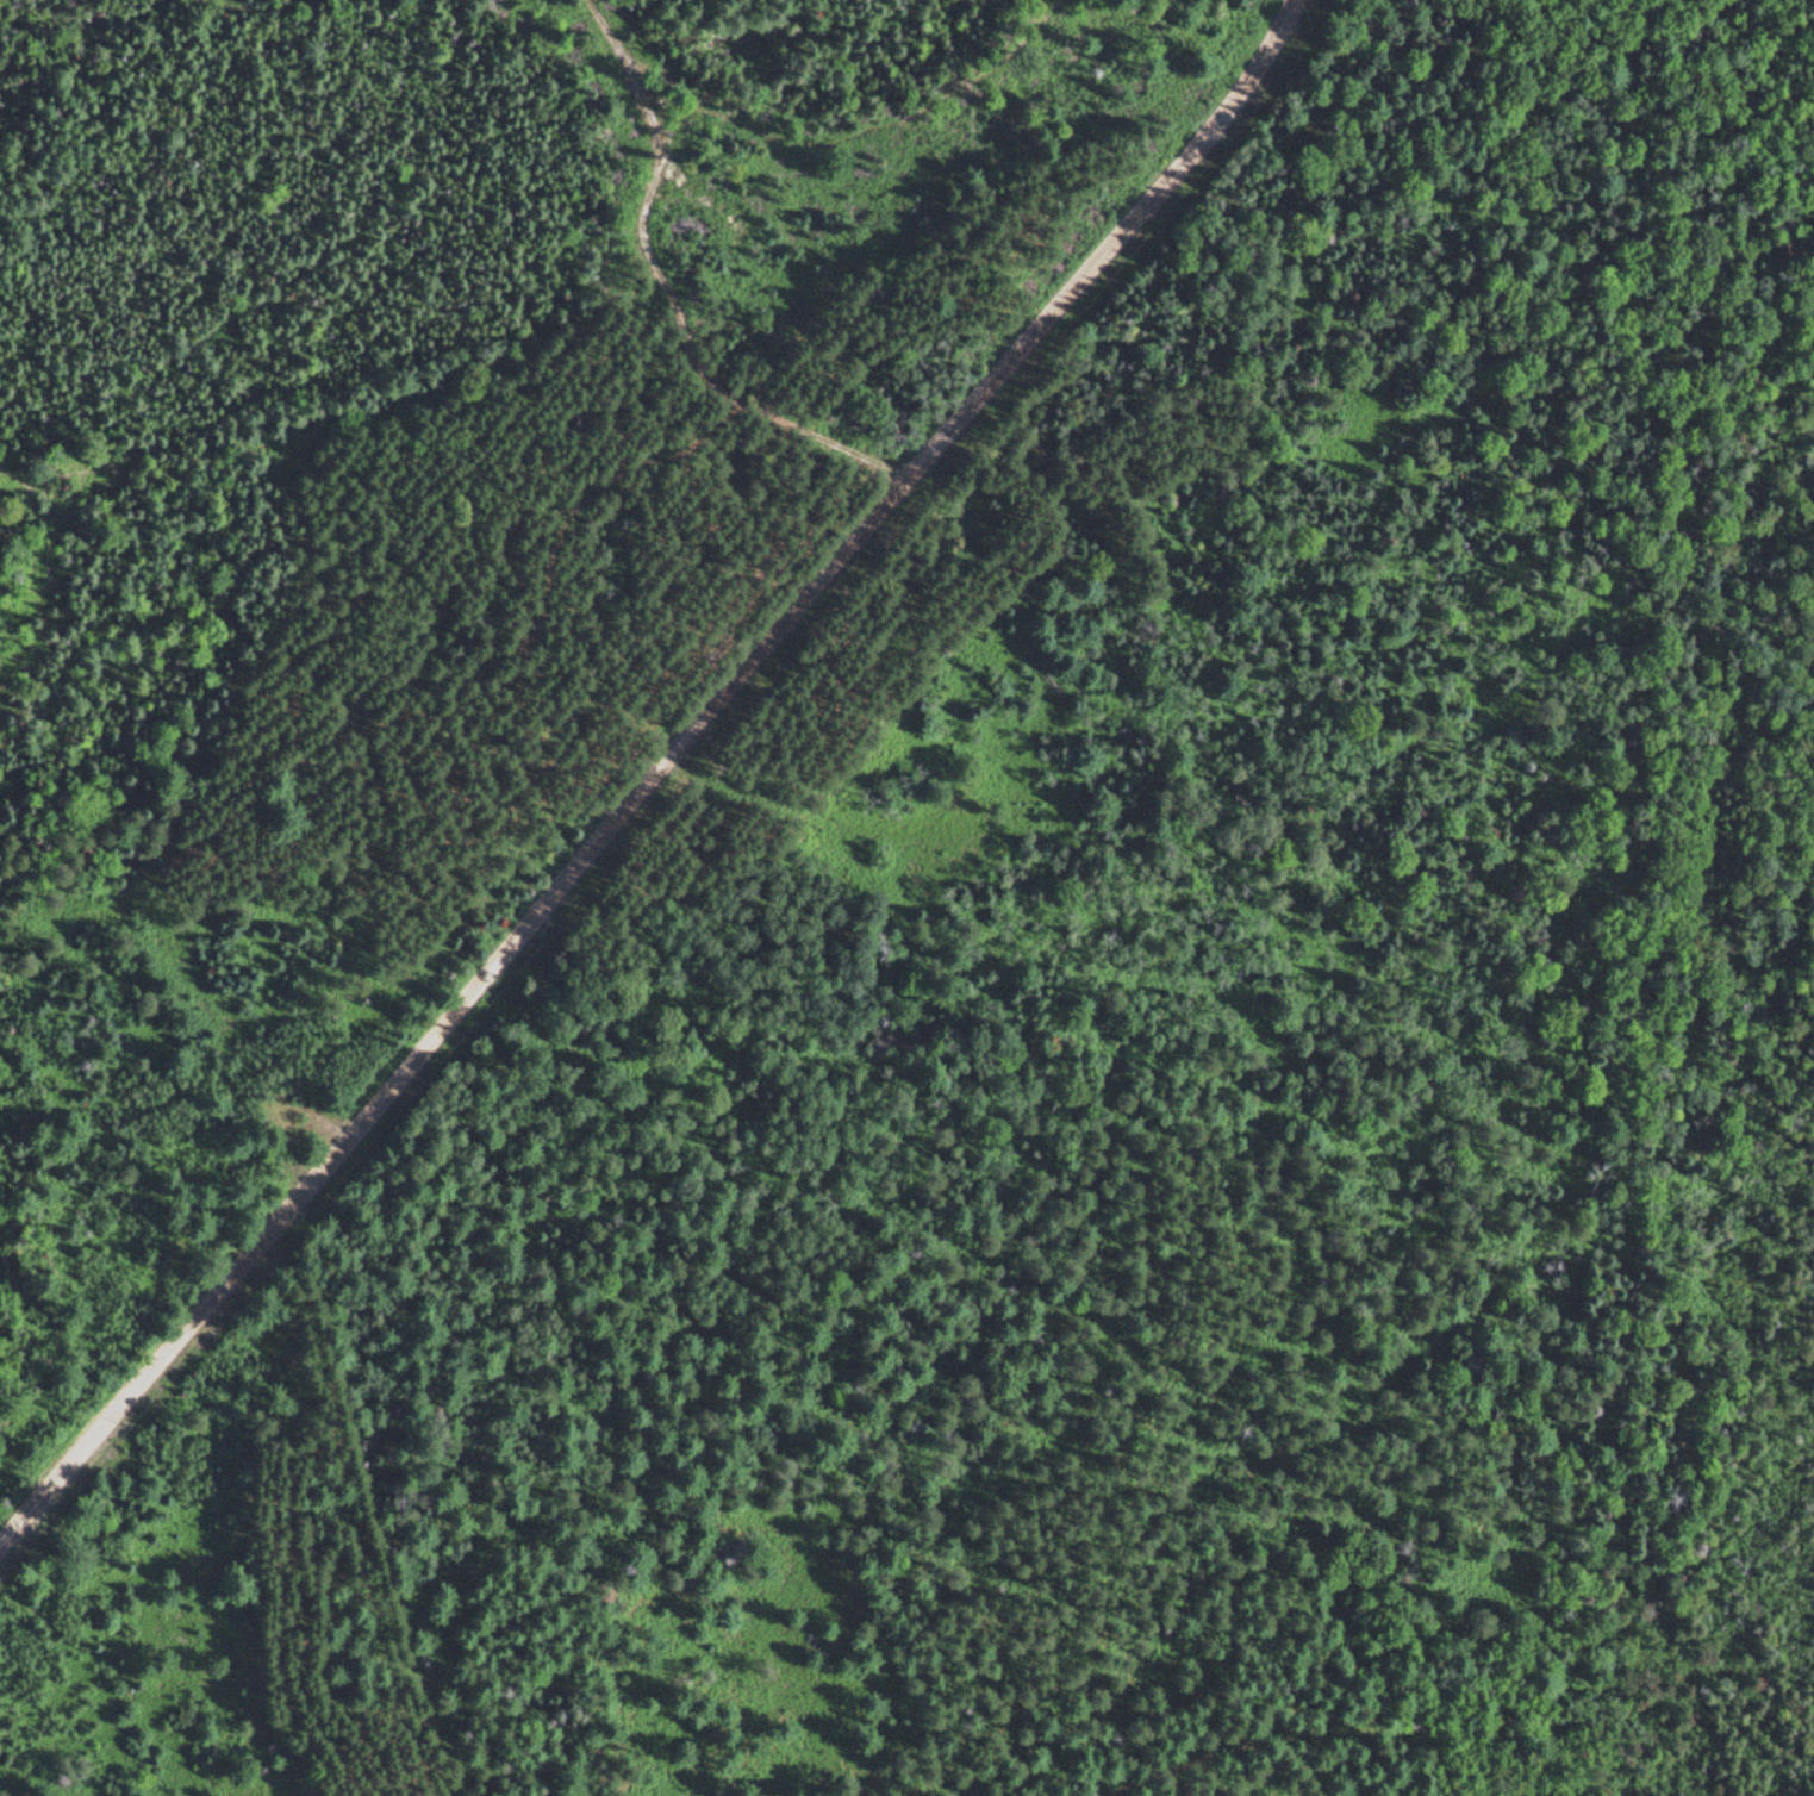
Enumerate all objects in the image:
road: (635, 210)
road: (485, 663)
road: (648, 773)

